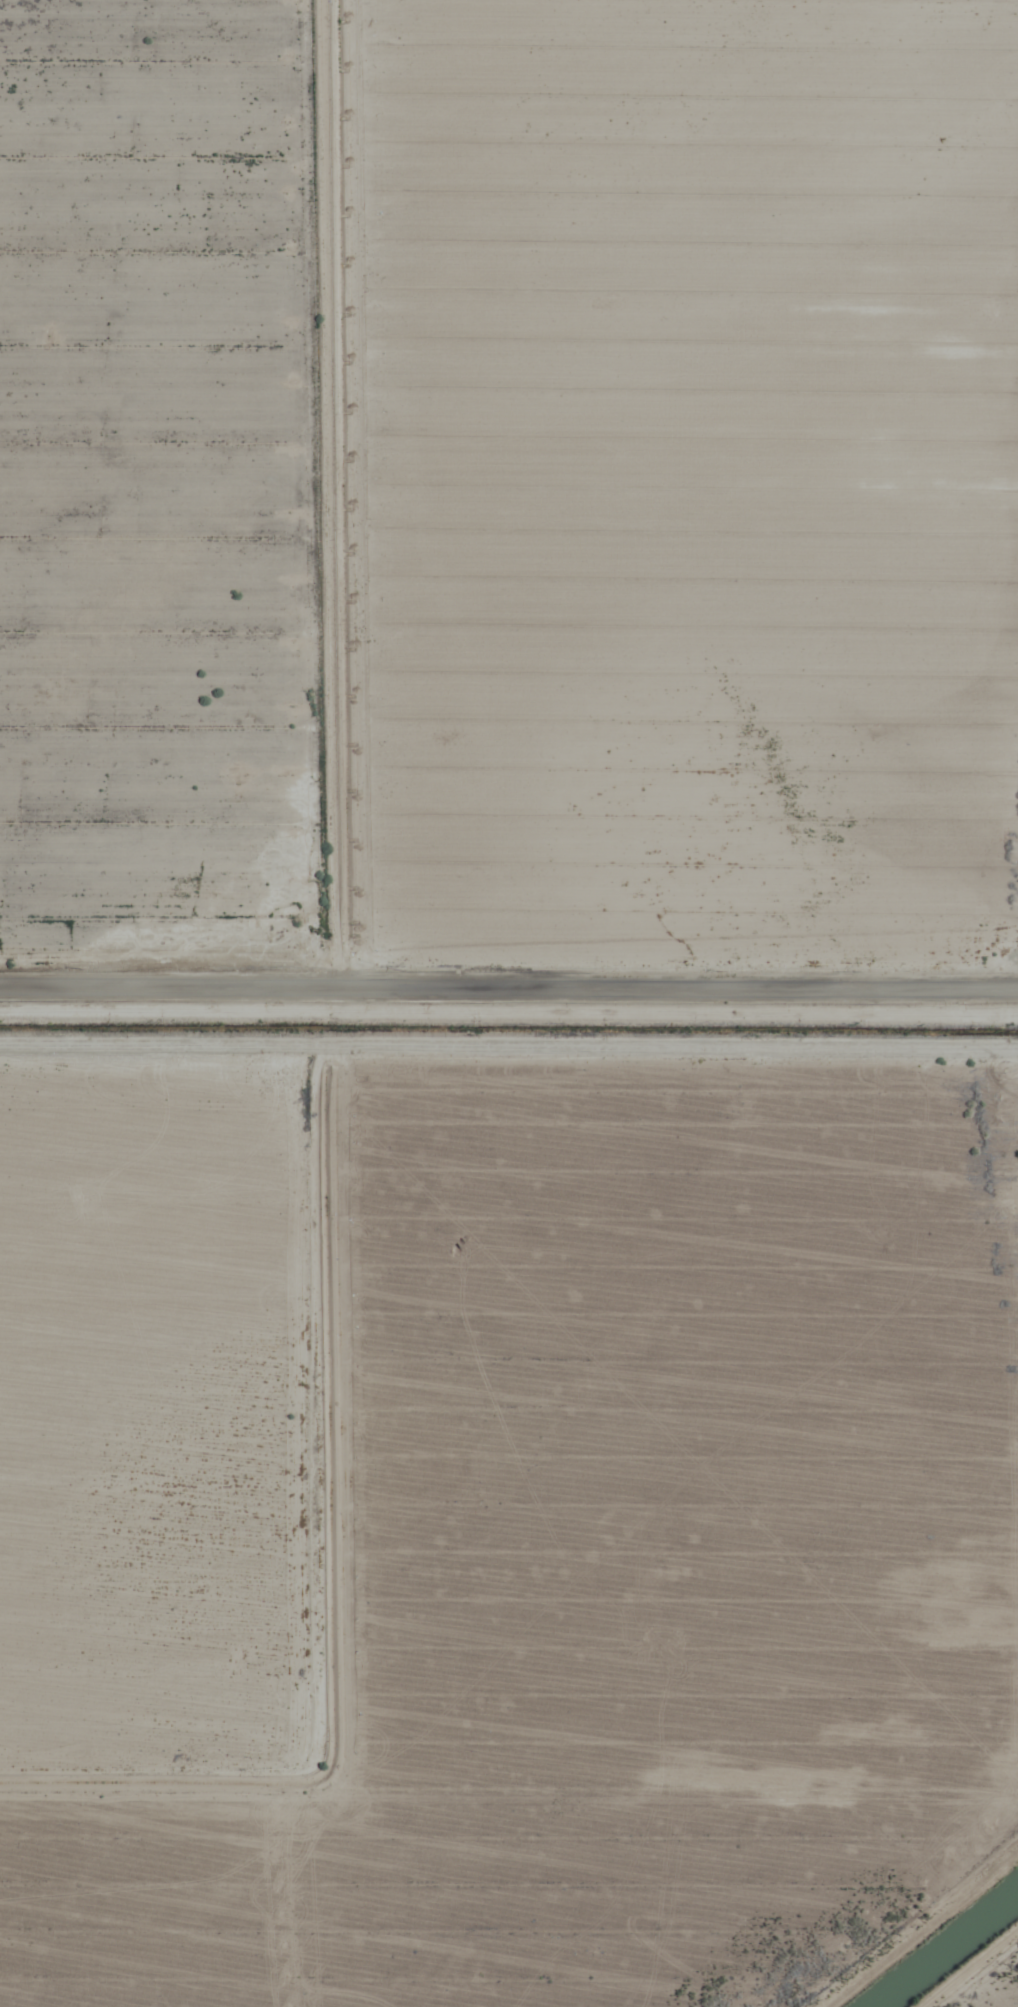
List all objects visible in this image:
crop: (509, 1003)
road: (509, 1015)

